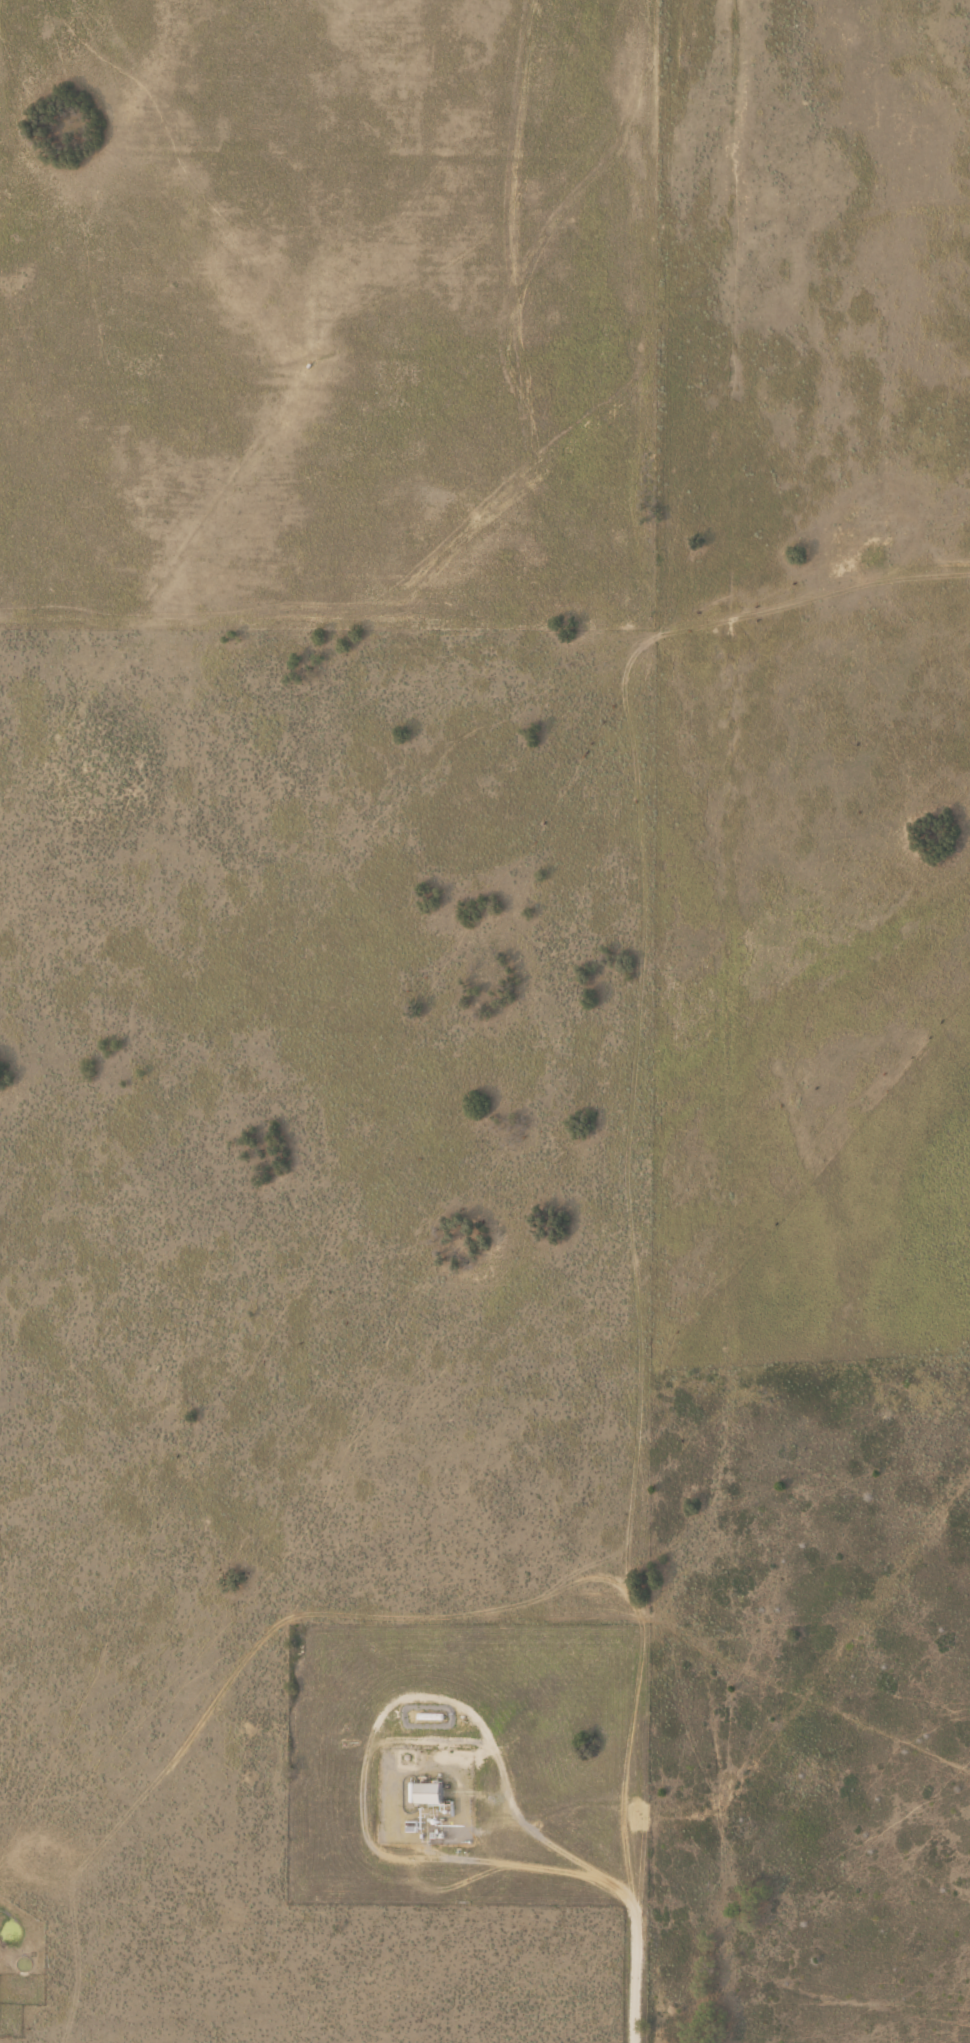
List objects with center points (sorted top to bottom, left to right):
building: (423, 1793)

